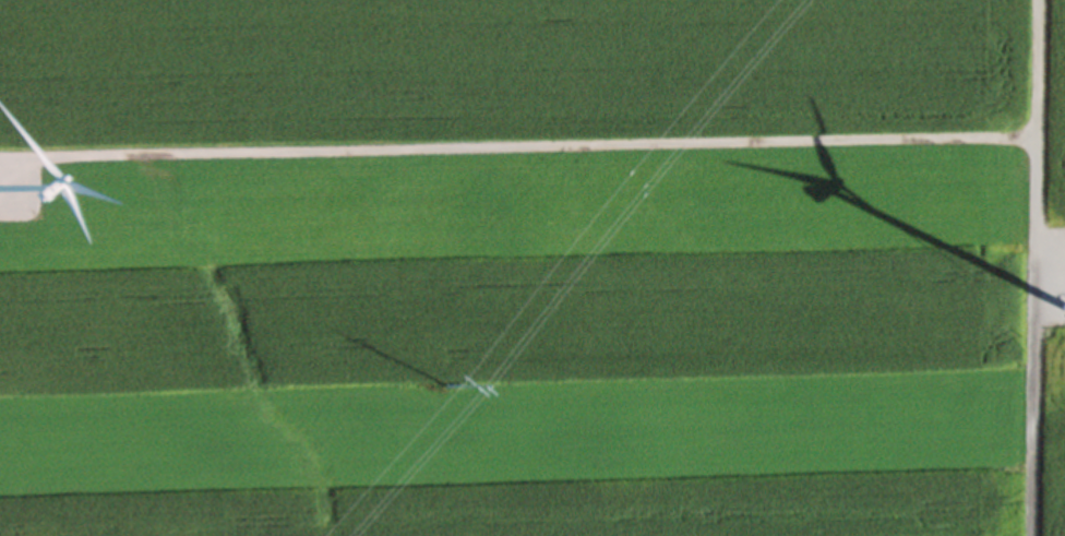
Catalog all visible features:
road: (512, 152)
road: (5, 175)
road: (1027, 267)
wind turbine: (1064, 310)
power tower: (439, 392)

